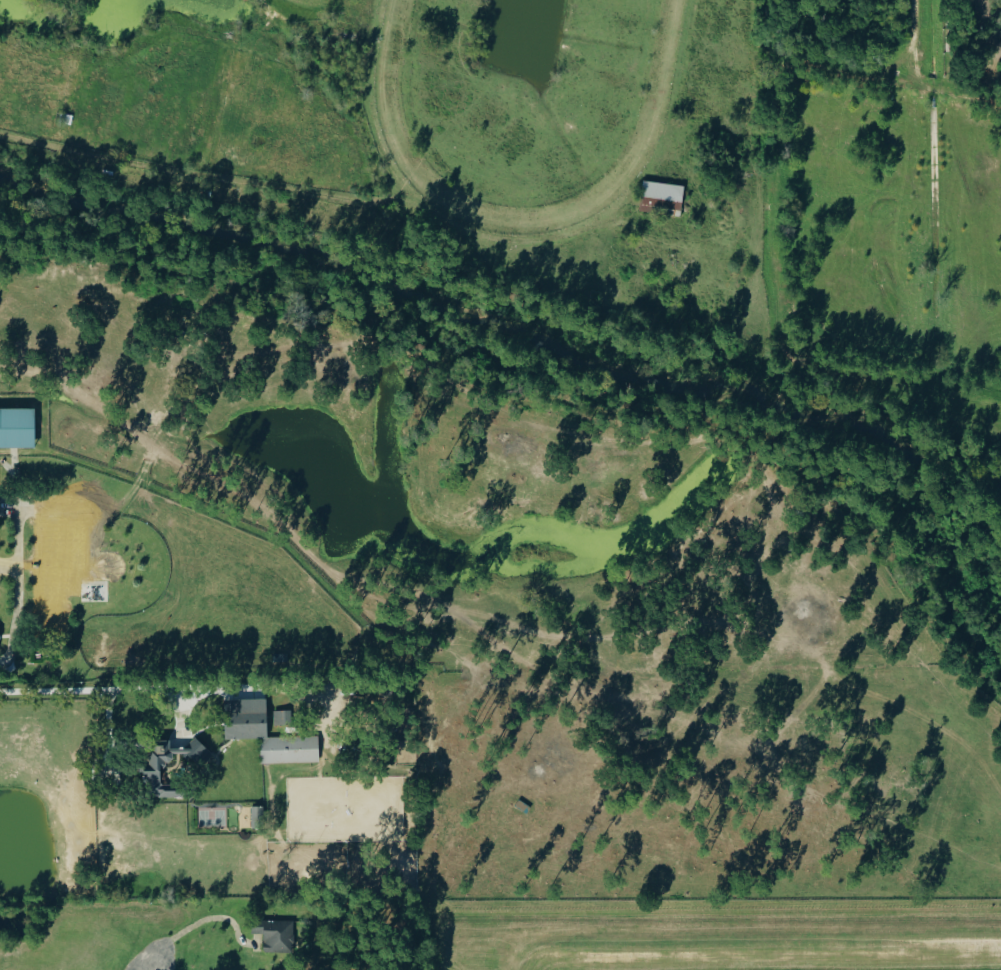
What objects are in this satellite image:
track: (651, 115)
building: (663, 198)
river: (500, 331)
building: (17, 428)
road: (16, 558)
building: (49, 566)
road: (8, 567)
building: (94, 593)
road: (133, 695)
building: (284, 716)
building: (246, 728)
building: (153, 774)
road: (212, 917)
building: (276, 934)
road: (161, 955)

